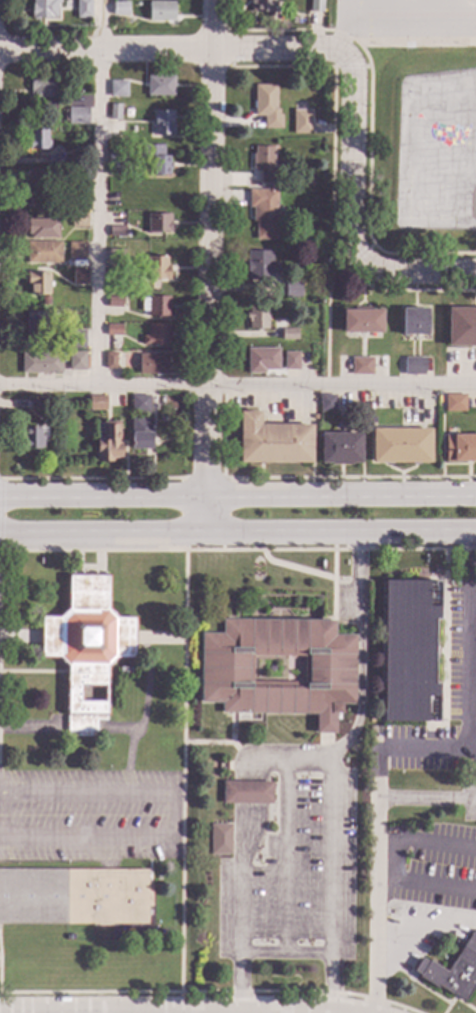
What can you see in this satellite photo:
building: (315, 5)
building: (261, 6)
building: (44, 8)
building: (82, 8)
building: (119, 8)
building: (160, 11)
road: (351, 26)
road: (179, 50)
building: (159, 86)
building: (118, 90)
building: (44, 93)
building: (266, 107)
building: (115, 112)
building: (76, 115)
building: (162, 122)
building: (301, 122)
building: (38, 140)
building: (115, 160)
building: (54, 161)
building: (263, 164)
building: (160, 165)
building: (79, 178)
road: (350, 179)
building: (307, 182)
building: (36, 187)
road: (98, 191)
building: (263, 213)
building: (79, 220)
building: (158, 223)
building: (42, 228)
building: (116, 231)
building: (76, 250)
building: (42, 252)
building: (115, 257)
building: (259, 266)
building: (157, 268)
road: (210, 269)
road: (431, 275)
building: (79, 278)
building: (37, 283)
building: (291, 290)
building: (45, 301)
building: (114, 302)
building: (155, 306)
building: (256, 317)
building: (361, 321)
building: (414, 322)
building: (34, 323)
building: (461, 327)
building: (113, 330)
building: (289, 334)
building: (156, 335)
building: (73, 340)
building: (76, 360)
building: (109, 360)
building: (261, 360)
building: (290, 361)
building: (41, 363)
building: (152, 364)
building: (413, 366)
building: (361, 367)
road: (237, 383)
building: (96, 403)
building: (140, 403)
building: (326, 403)
building: (455, 403)
building: (36, 404)
building: (313, 419)
building: (372, 423)
building: (141, 433)
building: (32, 439)
building: (273, 441)
building: (109, 444)
building: (402, 446)
building: (340, 448)
building: (459, 448)
road: (182, 493)
road: (238, 496)
road: (237, 537)
building: (85, 648)
building: (409, 652)
building: (226, 669)
road: (463, 709)
road: (332, 770)
road: (182, 781)
building: (246, 792)
road: (173, 816)
road: (239, 837)
building: (220, 839)
road: (426, 841)
road: (284, 855)
road: (376, 857)
road: (426, 884)
building: (73, 897)
road: (424, 926)
road: (283, 955)
building: (455, 971)
road: (259, 1012)

